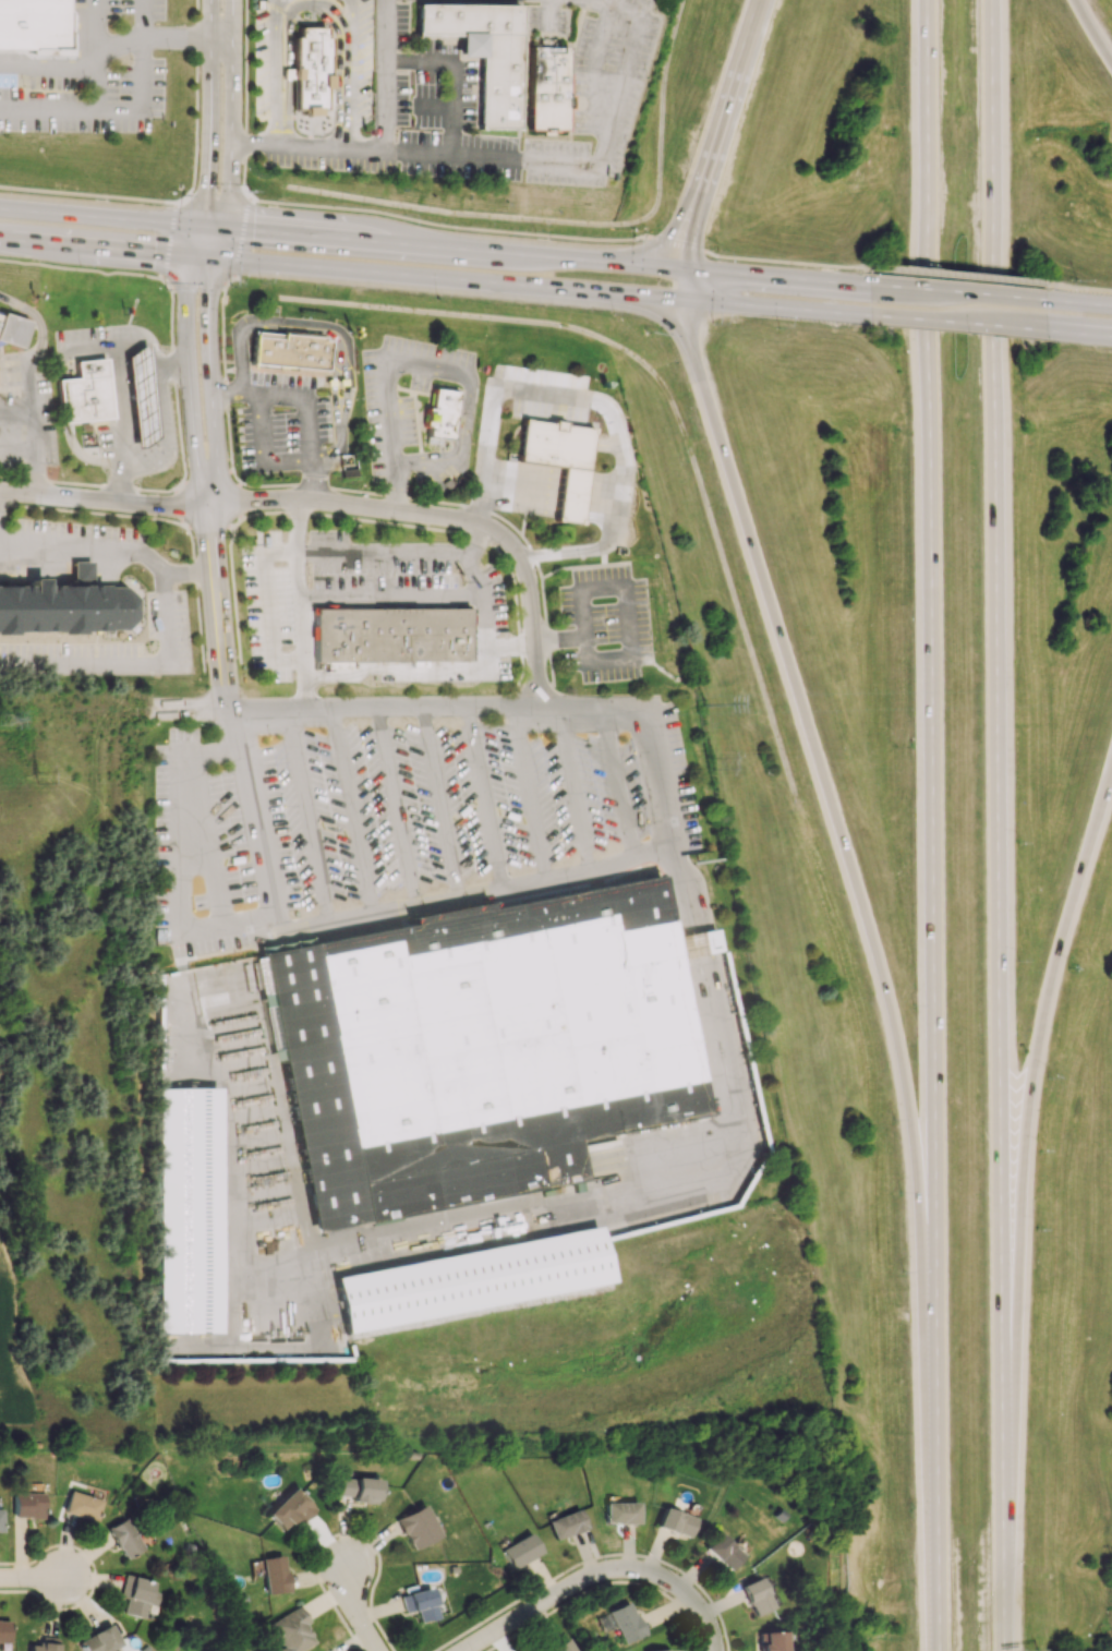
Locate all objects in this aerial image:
road: (335, 4)
road: (291, 9)
road: (549, 15)
road: (209, 20)
road: (232, 20)
building: (33, 24)
building: (71, 28)
road: (89, 31)
road: (1092, 32)
road: (220, 40)
building: (483, 52)
road: (105, 55)
road: (244, 63)
parking lot: (359, 63)
parking lot: (266, 67)
building: (311, 68)
road: (390, 74)
road: (231, 75)
road: (451, 75)
road: (594, 75)
parking lot: (89, 76)
road: (96, 84)
building: (547, 88)
parking lot: (494, 91)
road: (195, 97)
road: (724, 99)
road: (434, 104)
road: (126, 110)
road: (208, 133)
road: (243, 143)
road: (258, 145)
road: (316, 145)
road: (367, 147)
road: (600, 164)
road: (229, 169)
road: (242, 179)
road: (87, 194)
road: (99, 217)
road: (409, 222)
traffic signals: (200, 227)
traffic signals: (221, 229)
road: (684, 233)
road: (168, 239)
road: (231, 240)
road: (652, 243)
road: (674, 244)
road: (95, 248)
road: (525, 255)
traffic signals: (192, 256)
traffic signals: (213, 258)
road: (777, 262)
road: (82, 269)
traffic signals: (680, 269)
road: (681, 276)
road: (957, 276)
road: (437, 277)
road: (162, 279)
road: (193, 284)
road: (1086, 288)
road: (682, 291)
road: (956, 292)
traffic signals: (684, 300)
road: (1085, 303)
road: (767, 308)
road: (665, 317)
road: (954, 323)
road: (39, 324)
building: (11, 329)
road: (1084, 334)
road: (691, 337)
road: (335, 342)
building: (288, 351)
road: (186, 365)
road: (208, 365)
road: (421, 365)
road: (273, 370)
road: (222, 382)
road: (241, 383)
road: (32, 386)
building: (85, 393)
building: (140, 395)
road: (124, 401)
road: (597, 401)
parking lot: (26, 413)
building: (442, 413)
parking lot: (282, 423)
road: (306, 429)
road: (35, 441)
road: (17, 453)
road: (264, 453)
building: (559, 460)
road: (182, 472)
road: (208, 482)
road: (104, 501)
road: (239, 501)
road: (472, 507)
road: (94, 511)
road: (443, 519)
road: (237, 523)
road: (210, 527)
road: (449, 530)
road: (210, 539)
road: (478, 540)
road: (109, 551)
road: (380, 552)
road: (582, 565)
building: (80, 571)
road: (195, 577)
parking lot: (347, 583)
road: (233, 593)
road: (414, 599)
road: (298, 605)
road: (267, 606)
building: (68, 607)
parking lot: (161, 608)
parking lot: (605, 625)
building: (391, 635)
road: (221, 640)
road: (511, 643)
road: (629, 656)
road: (128, 661)
road: (406, 676)
road: (304, 684)
power tower: (702, 694)
road: (437, 706)
power tower: (1, 715)
power tower: (709, 762)
power tower: (39, 781)
road: (660, 781)
road: (618, 782)
road: (820, 783)
road: (573, 785)
road: (528, 791)
road: (486, 796)
road: (442, 802)
building: (462, 806)
road: (397, 807)
road: (353, 814)
parking lot: (399, 814)
road: (201, 815)
building: (517, 815)
road: (305, 818)
road: (254, 823)
road: (932, 825)
road: (999, 825)
building: (235, 859)
road: (179, 885)
road: (476, 893)
building: (701, 942)
road: (1056, 974)
building: (478, 1047)
road: (494, 1207)
building: (189, 1212)
building: (469, 1279)
building: (358, 1490)
building: (27, 1505)
building: (82, 1506)
building: (288, 1510)
building: (620, 1513)
building: (1, 1520)
building: (674, 1522)
building: (565, 1523)
building: (415, 1527)
building: (125, 1538)
building: (519, 1551)
building: (721, 1552)
road: (615, 1572)
building: (273, 1575)
road: (35, 1581)
building: (137, 1595)
building: (754, 1596)
building: (419, 1604)
road: (358, 1613)
building: (625, 1623)
building: (4, 1630)
building: (291, 1631)
building: (99, 1640)
building: (769, 1641)
road: (480, 1644)
building: (43, 1647)
building: (559, 1647)
building: (658, 1650)

